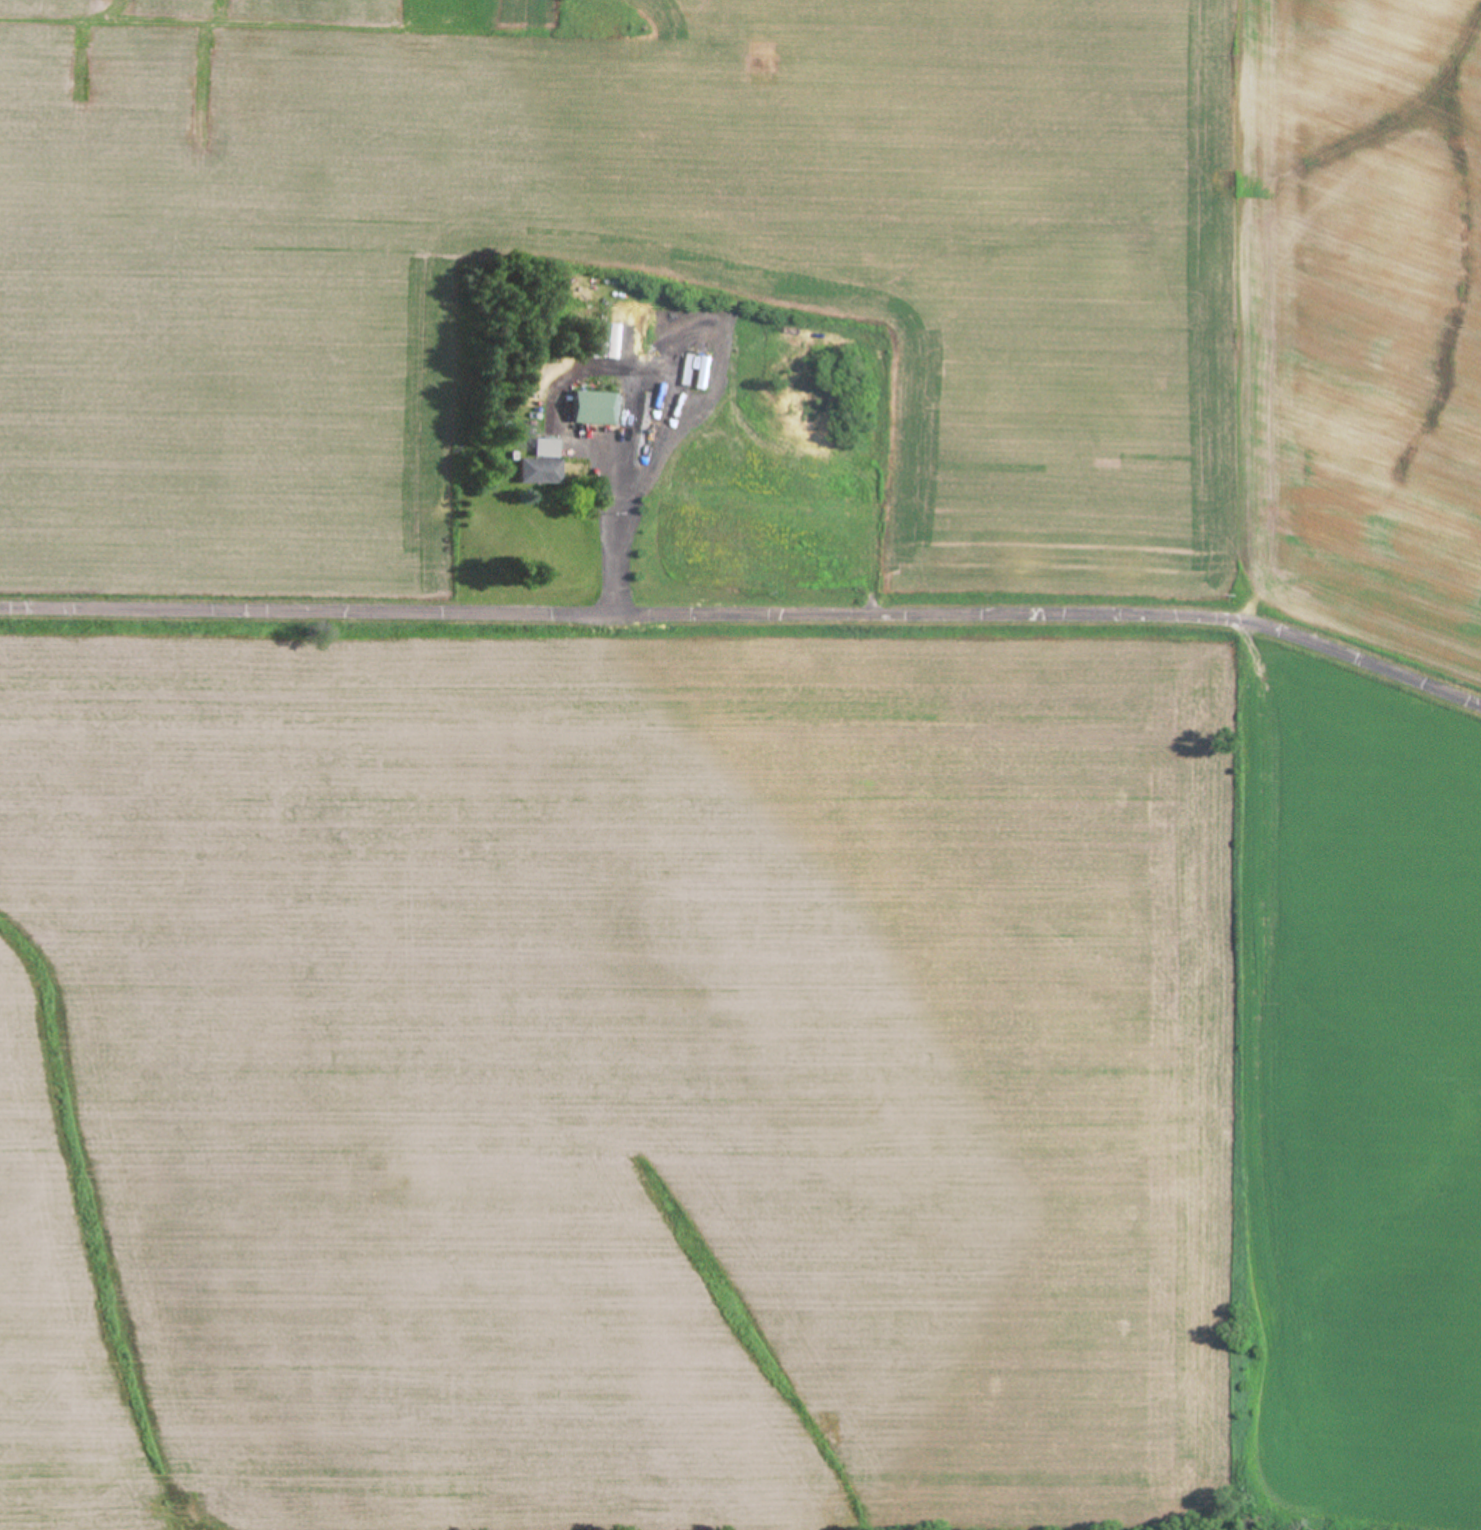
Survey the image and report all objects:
building: (591, 343)
road: (629, 399)
building: (591, 410)
building: (538, 466)
road: (748, 617)

